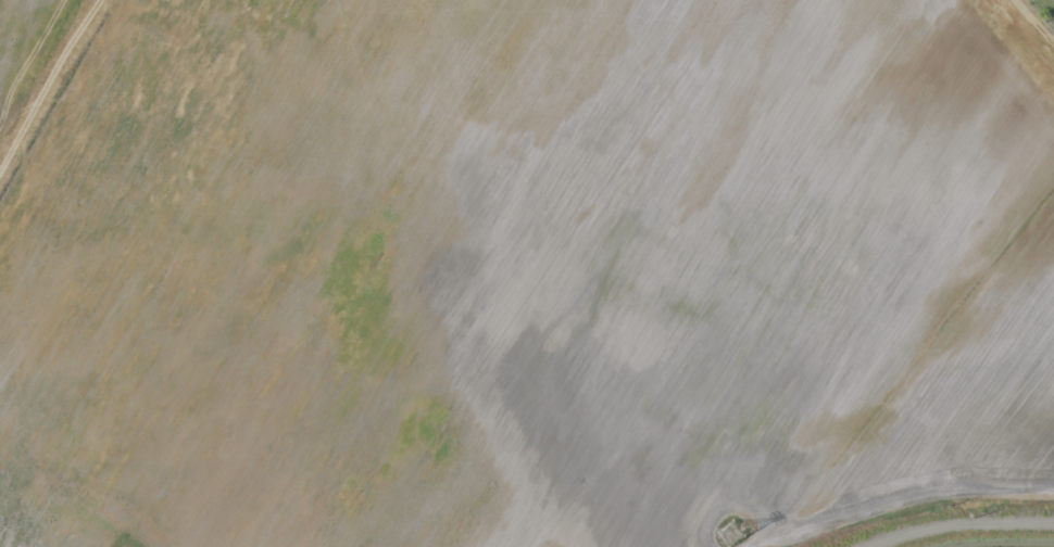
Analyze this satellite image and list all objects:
road: (967, 524)
power tower: (730, 533)

